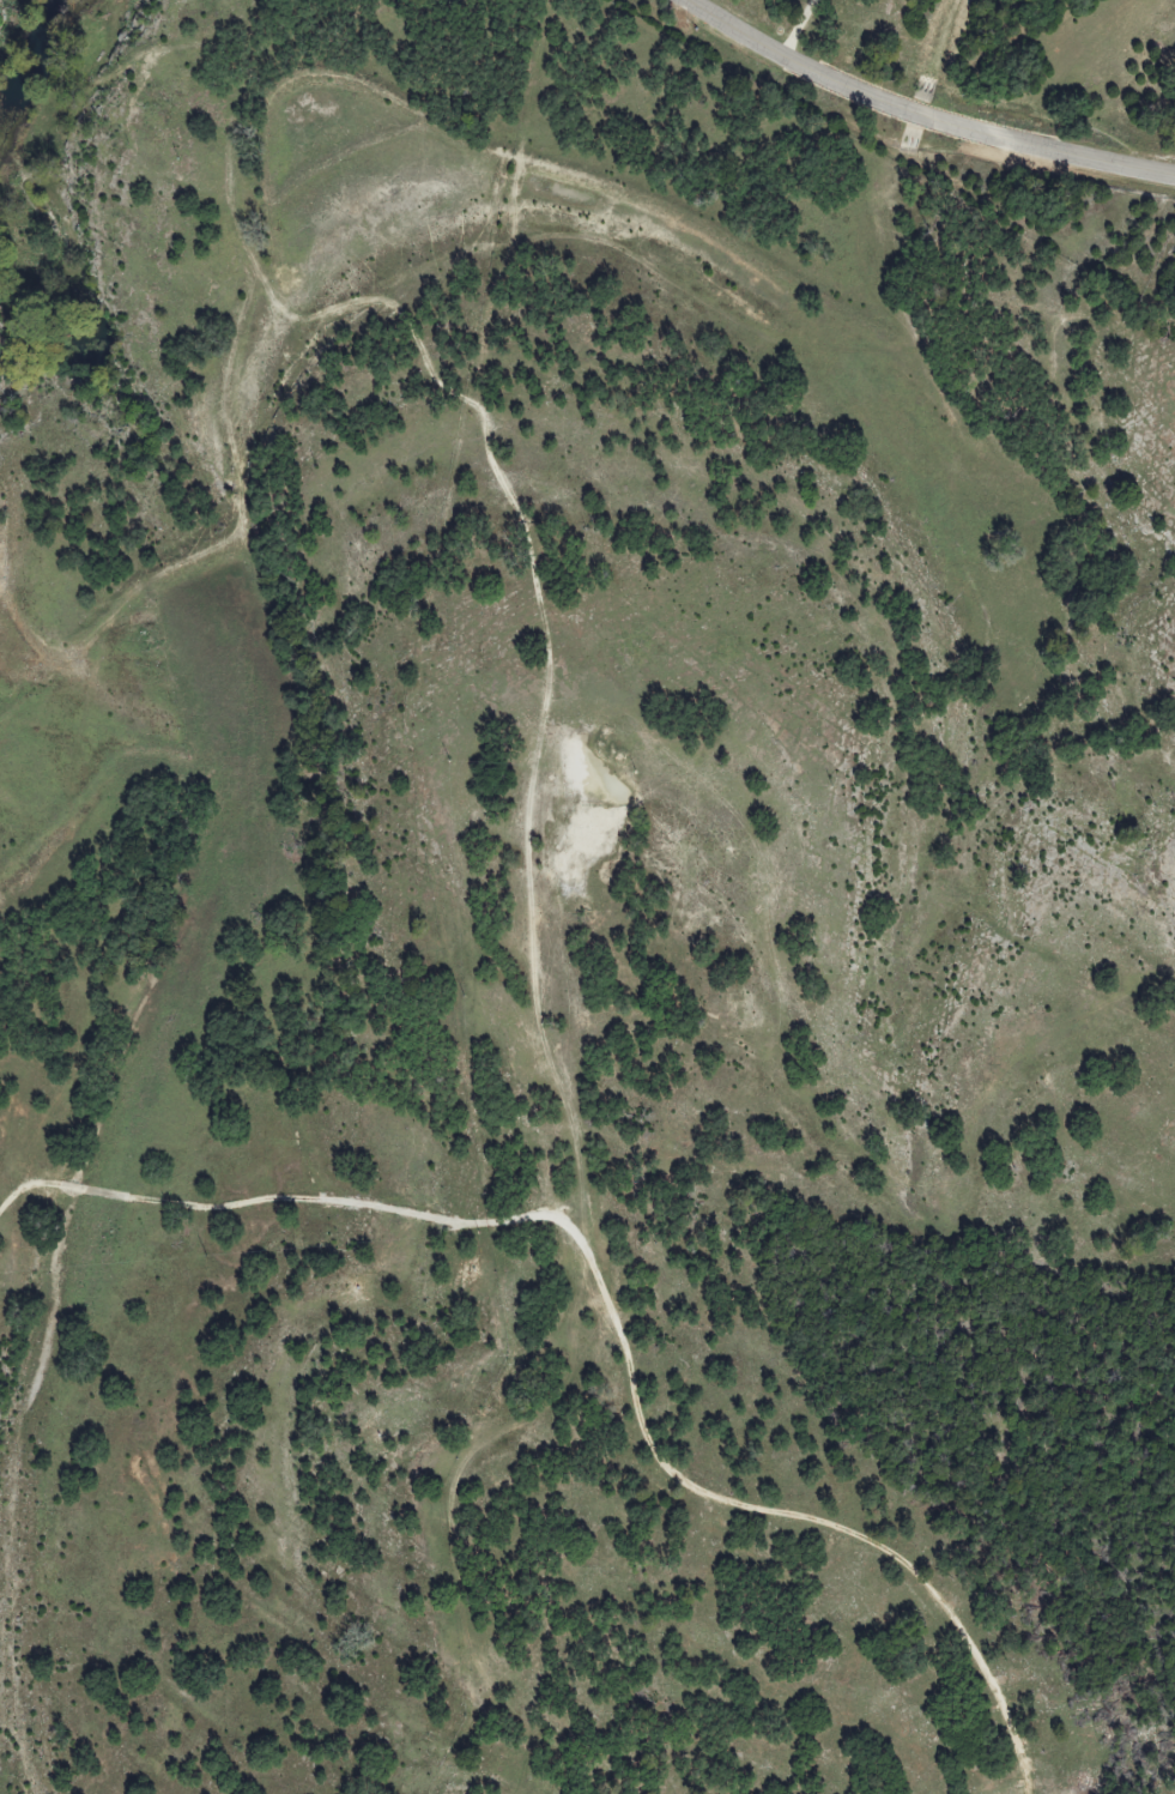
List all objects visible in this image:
road: (791, 26)
road: (917, 115)

